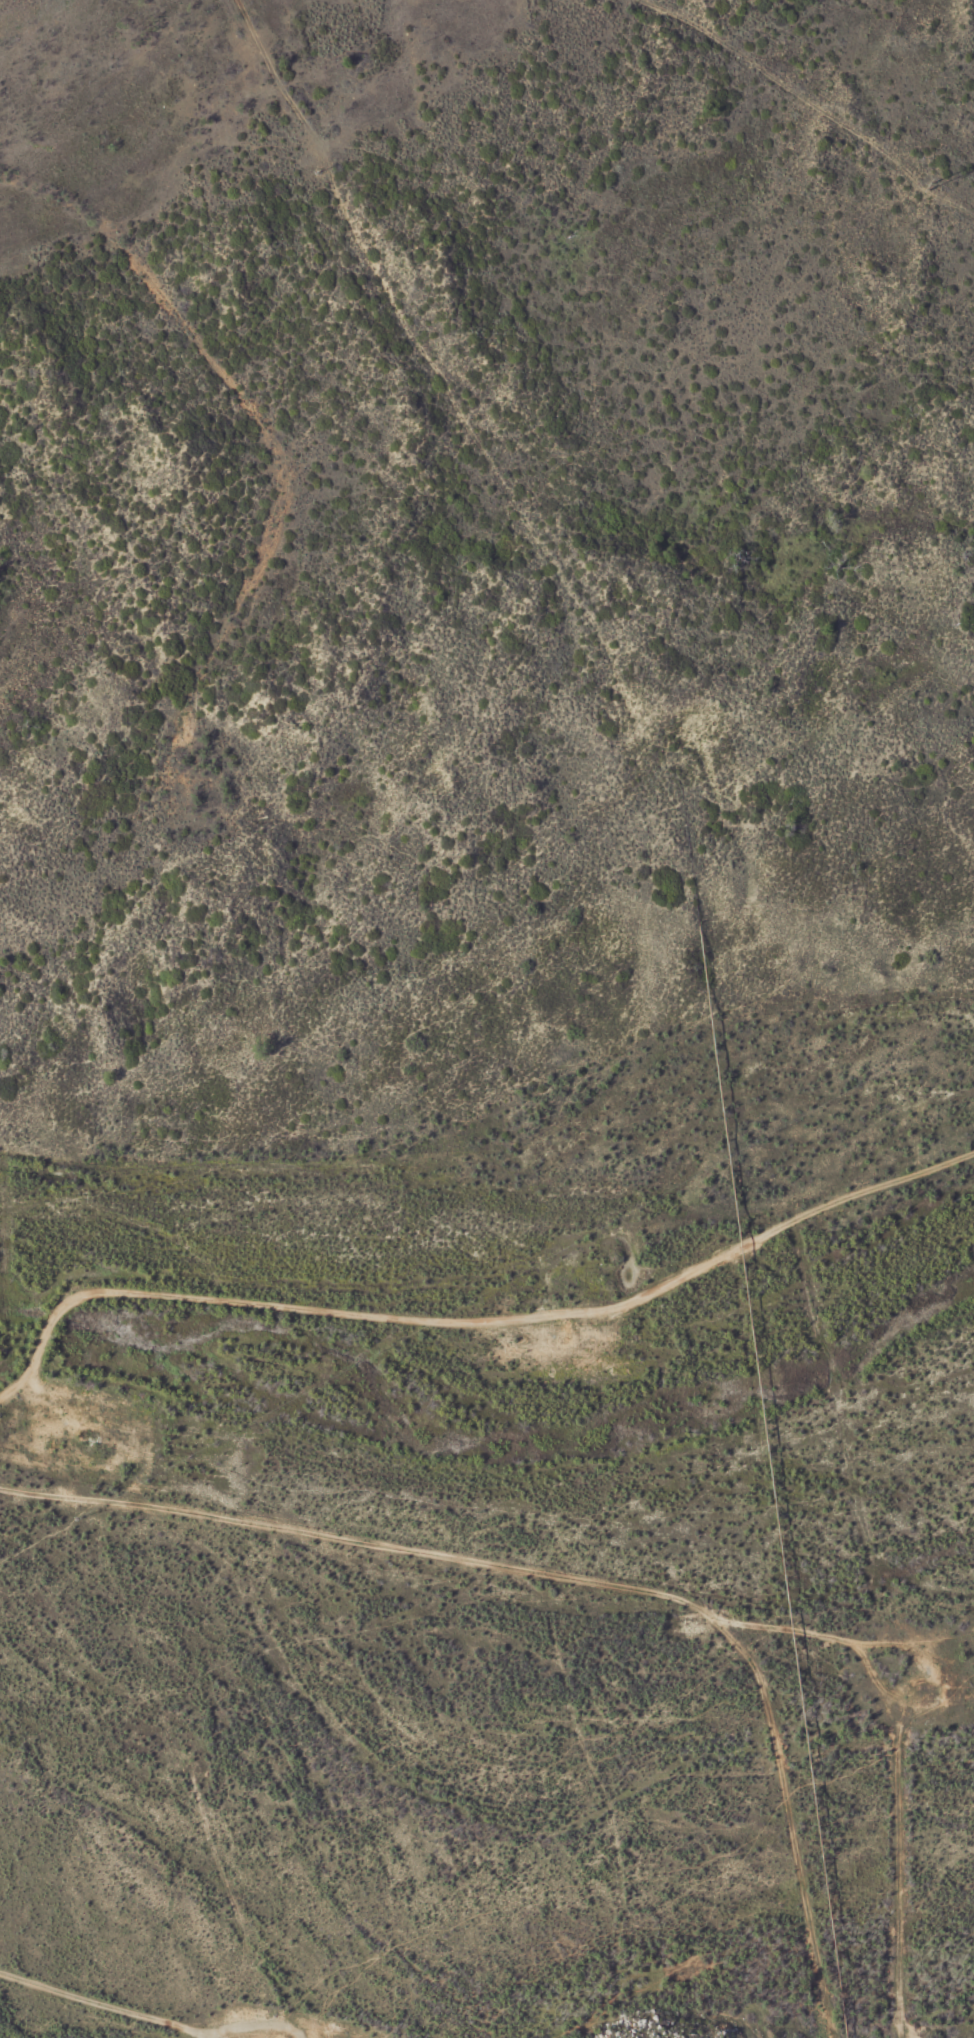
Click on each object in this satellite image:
power tower: (931, 184)
river: (492, 1445)

